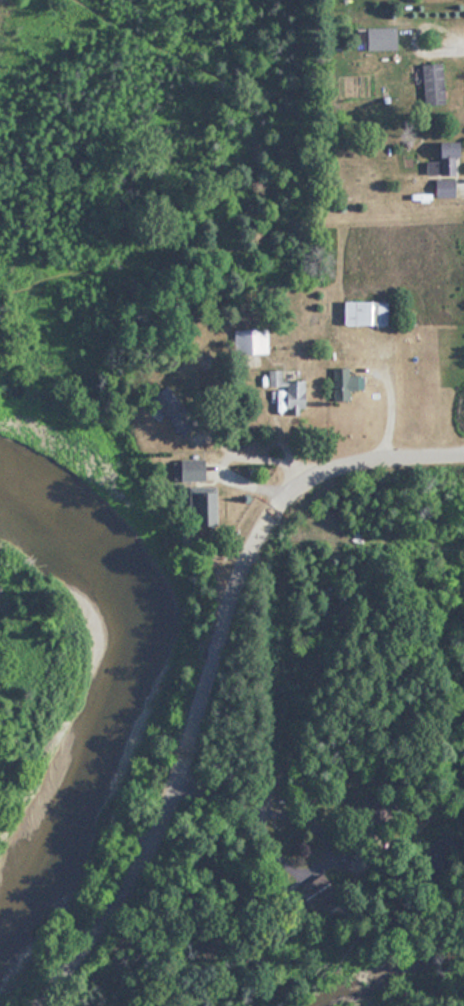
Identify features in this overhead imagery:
building: (377, 38)
building: (428, 83)
building: (436, 170)
building: (359, 312)
building: (246, 341)
building: (339, 383)
building: (289, 394)
road: (386, 400)
building: (167, 409)
road: (247, 454)
building: (185, 477)
road: (204, 668)
river: (125, 694)

